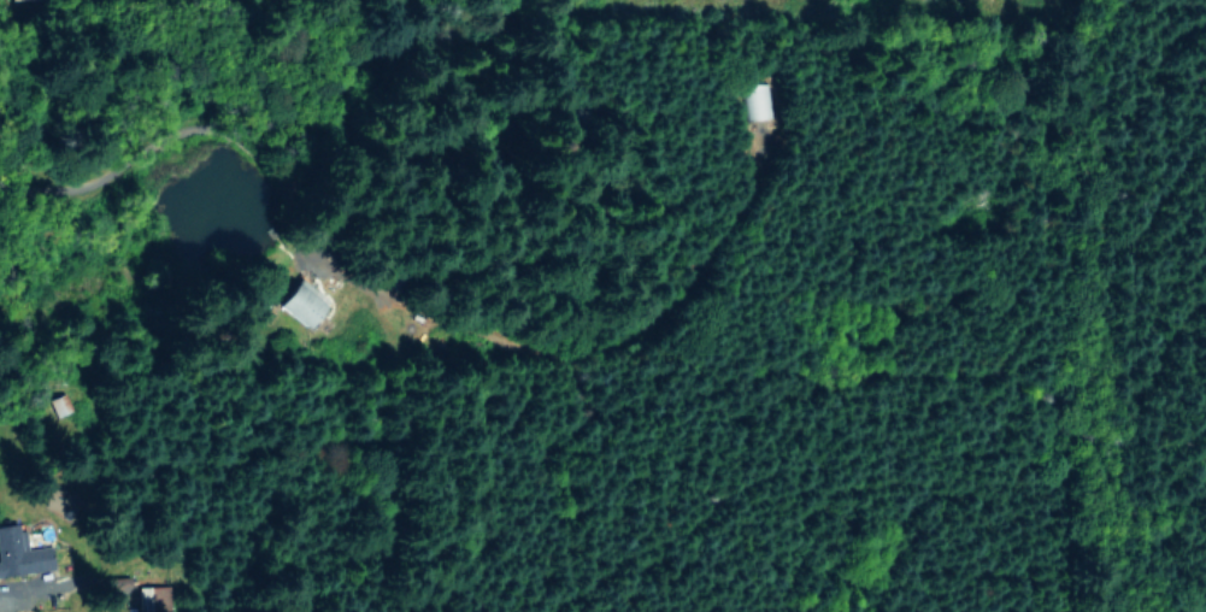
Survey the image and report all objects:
building: (20, 554)
building: (158, 601)

